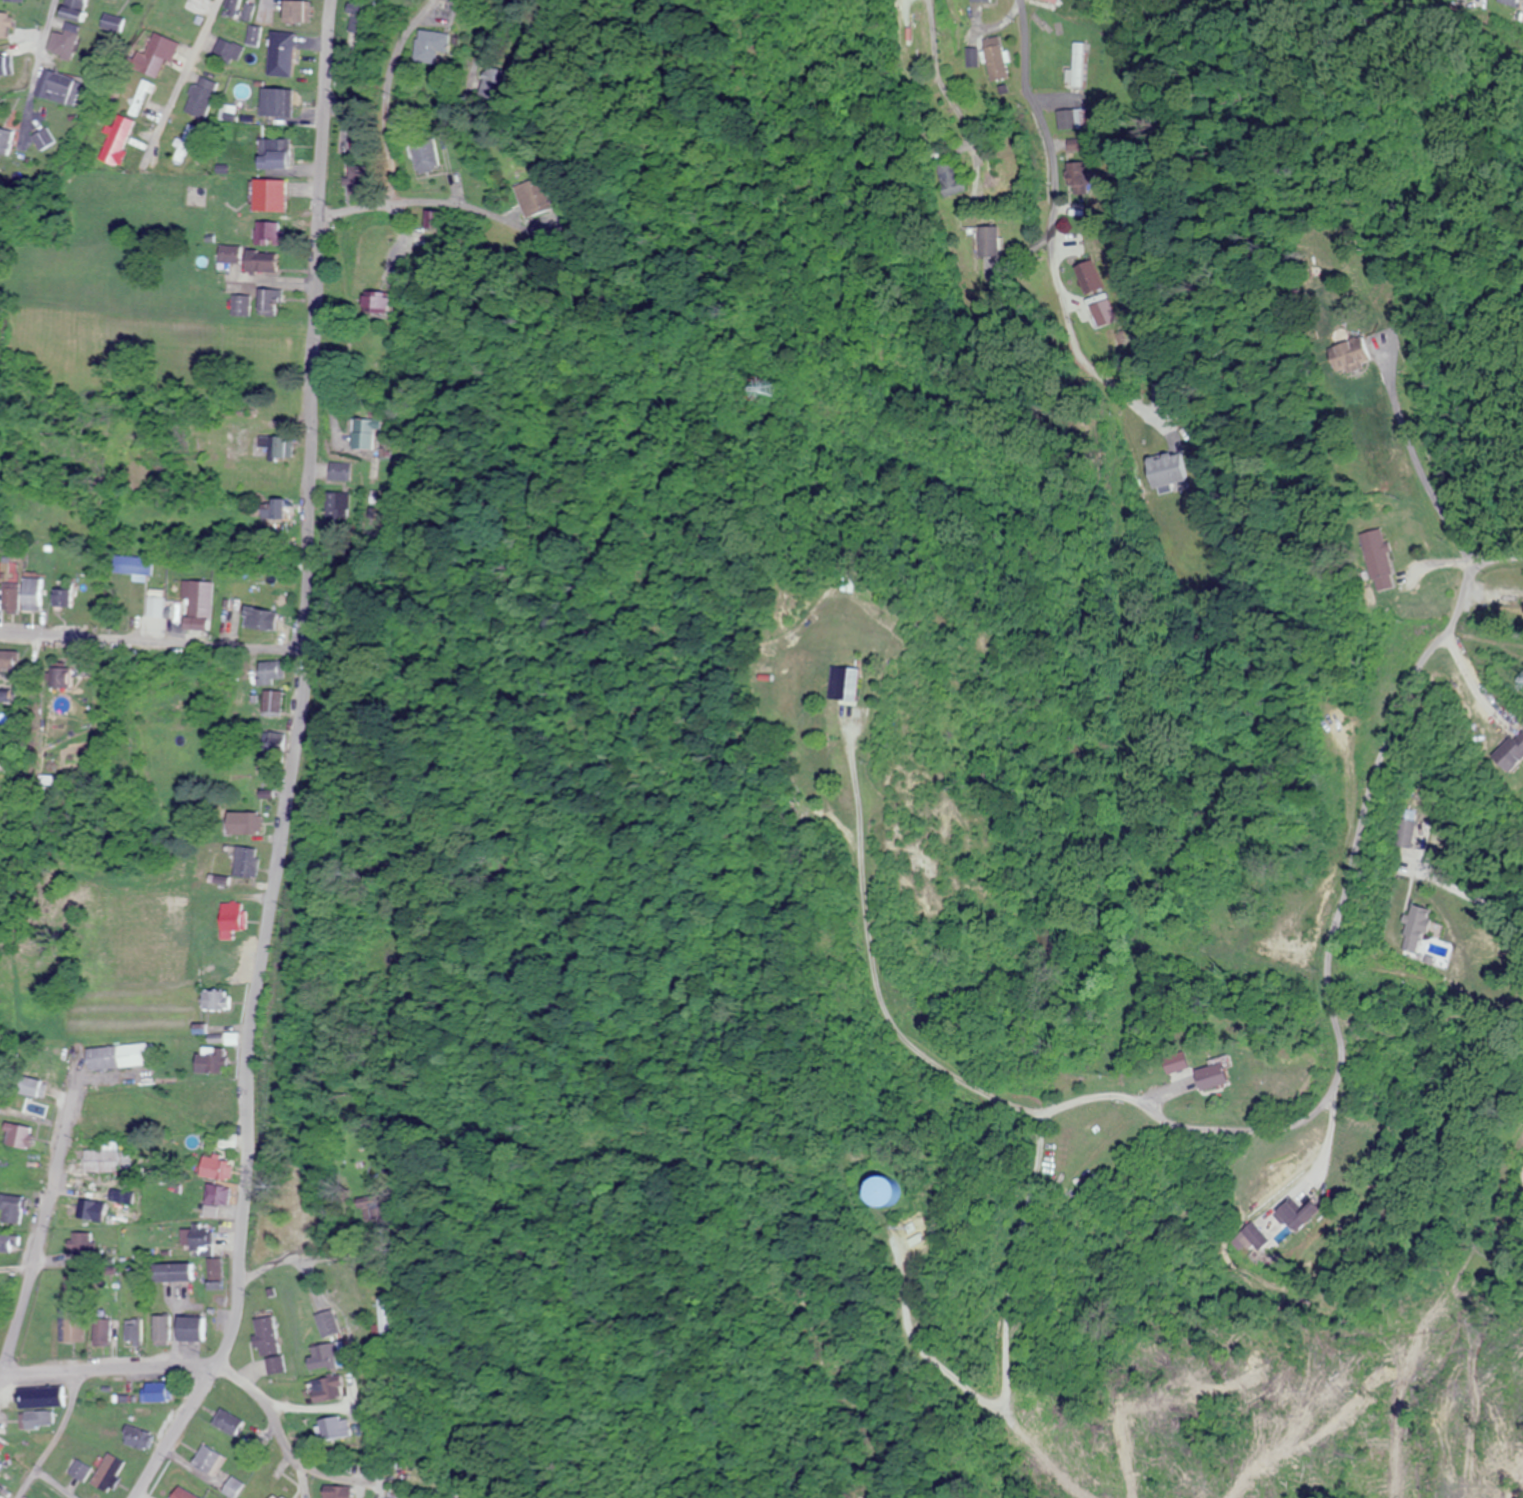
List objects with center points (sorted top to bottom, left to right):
road: (474, 16)
road: (57, 27)
road: (932, 32)
road: (182, 84)
road: (387, 95)
road: (939, 96)
road: (1041, 120)
road: (424, 201)
road: (514, 299)
power tower: (773, 383)
road: (154, 641)
road: (41, 738)
road: (298, 763)
road: (1333, 939)
building: (15, 1136)
building: (5, 1210)
building: (98, 1212)
building: (4, 1242)
building: (80, 1242)
road: (37, 1246)
building: (173, 1272)
road: (264, 1274)
building: (73, 1327)
building: (189, 1329)
building: (100, 1330)
building: (132, 1330)
building: (156, 1330)
building: (267, 1342)
road: (109, 1369)
building: (327, 1388)
building: (156, 1392)
building: (40, 1397)
road: (264, 1399)
building: (137, 1411)
building: (35, 1420)
building: (228, 1421)
building: (334, 1428)
road: (54, 1434)
building: (136, 1437)
building: (19, 1442)
building: (208, 1460)
building: (0, 1463)
building: (79, 1470)
building: (107, 1473)
building: (232, 1487)
building: (337, 1491)
building: (181, 1493)
building: (272, 1496)

